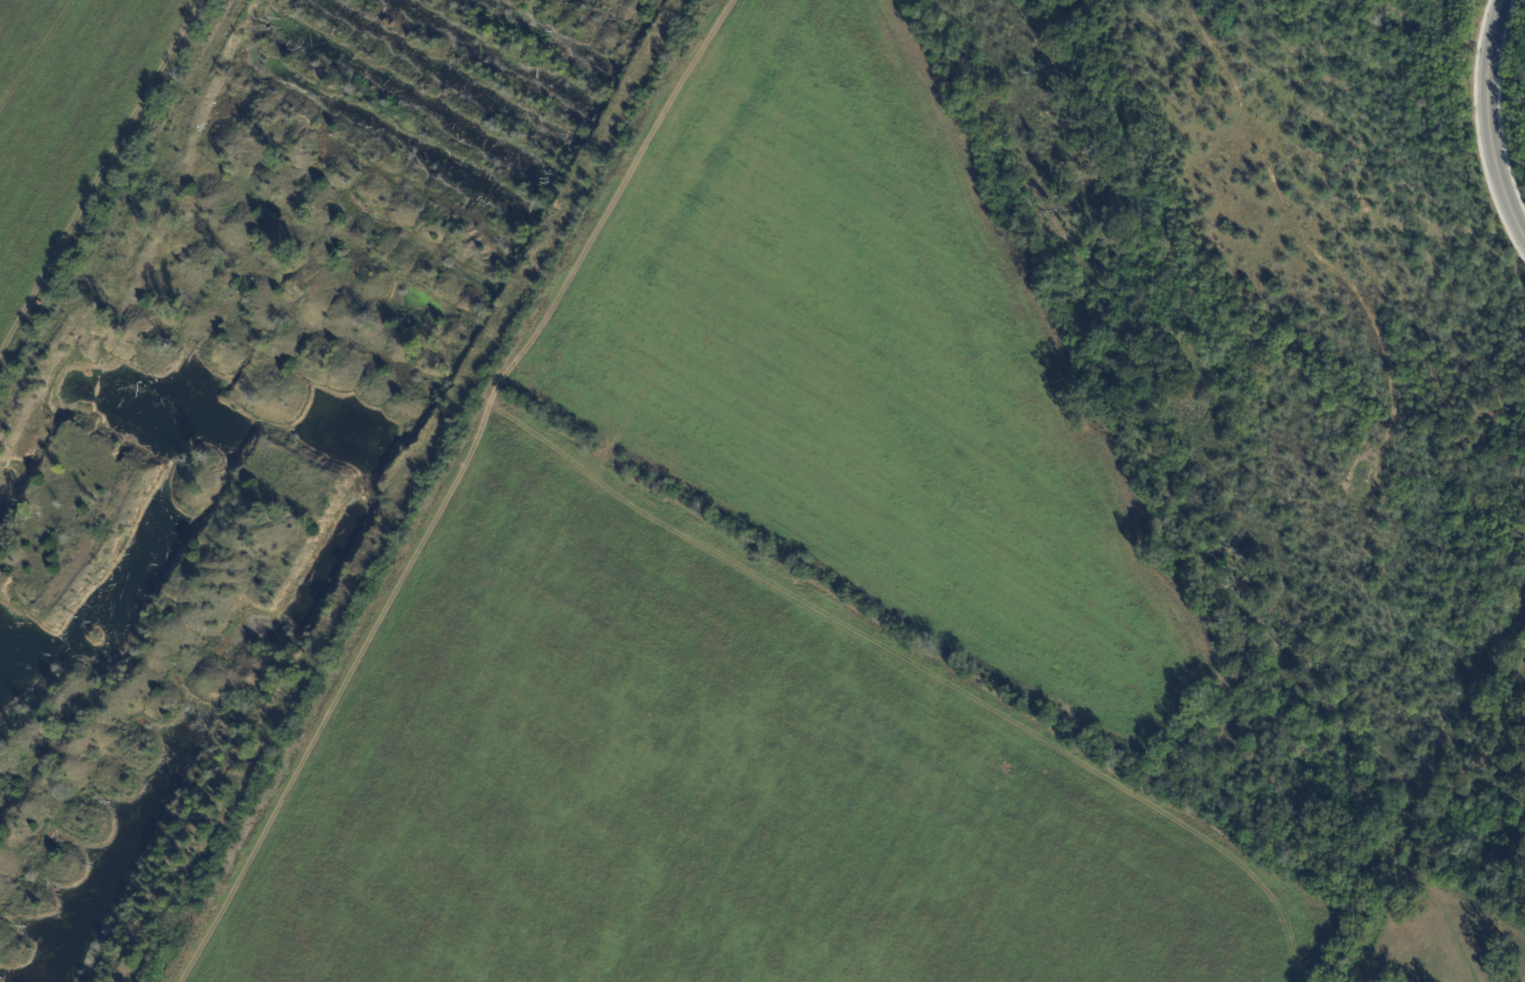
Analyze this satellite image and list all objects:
road: (1488, 121)

